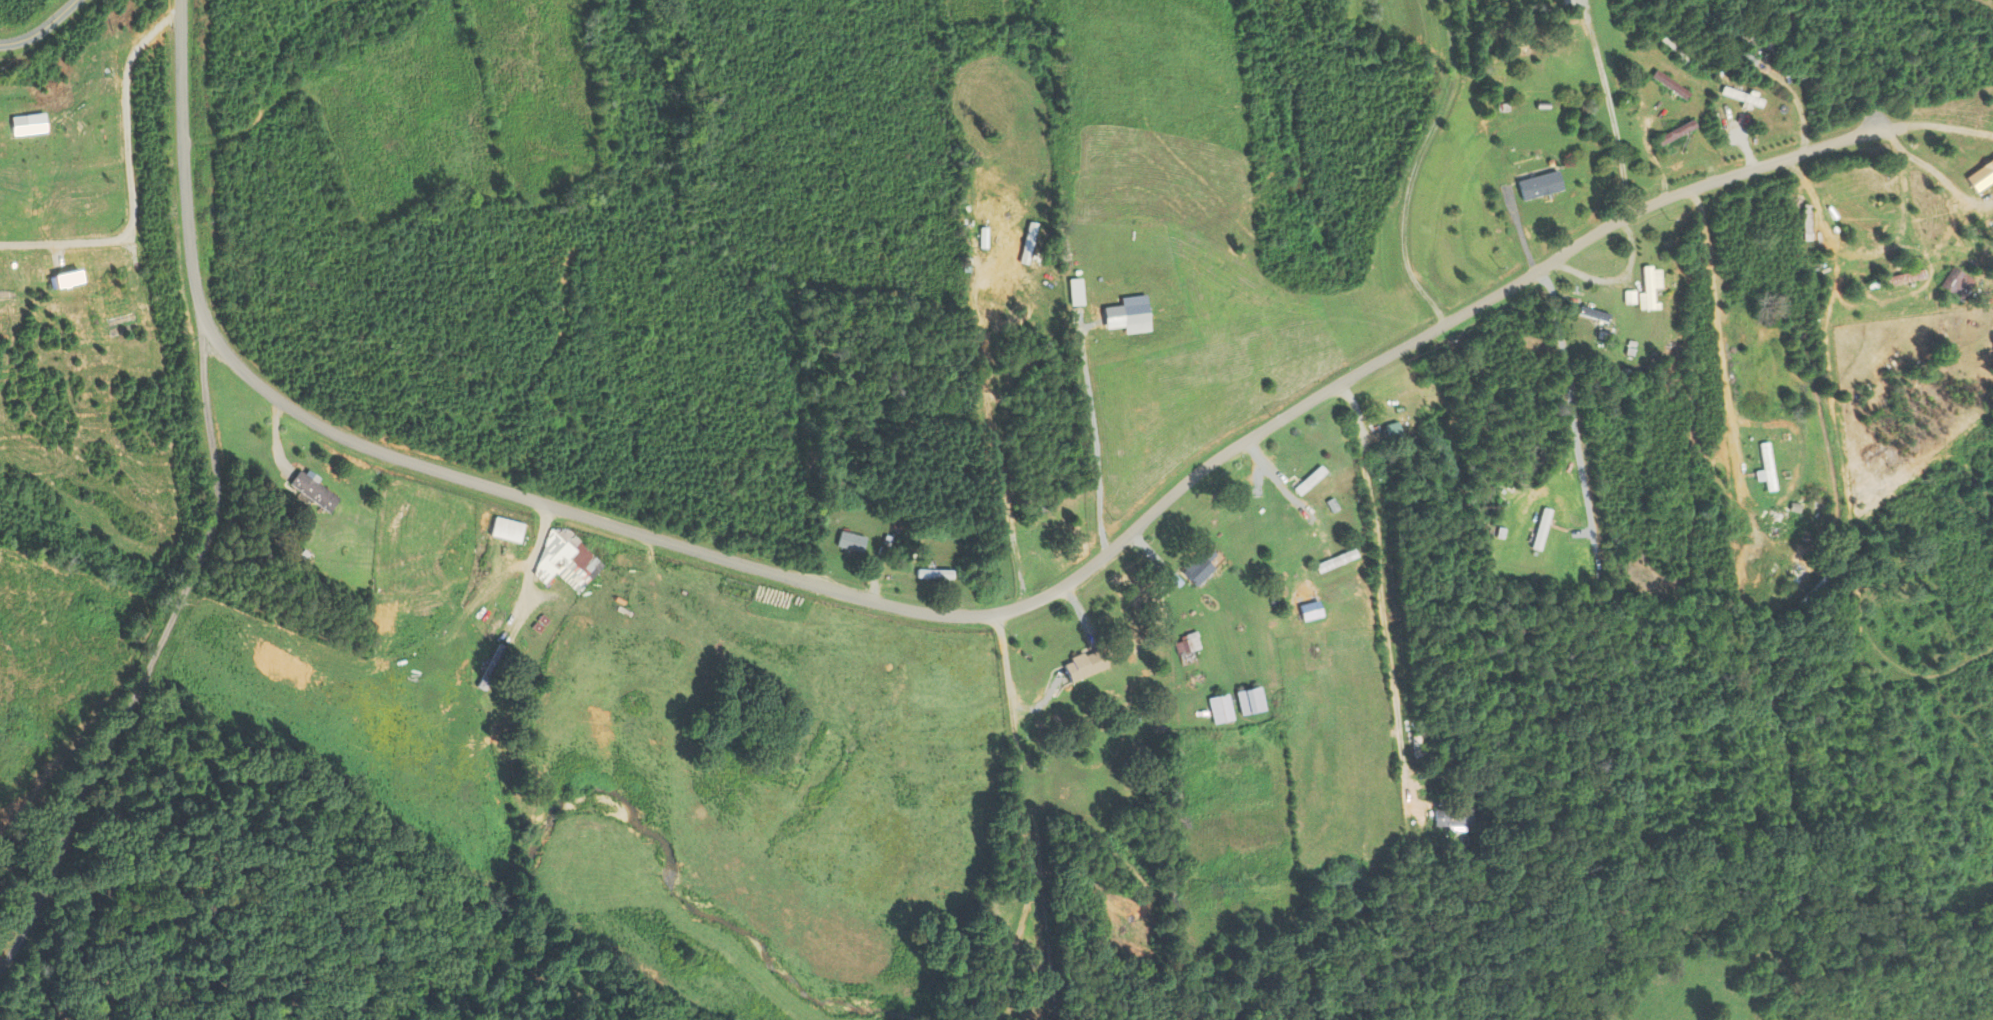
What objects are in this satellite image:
road: (40, 30)
building: (1743, 40)
building: (1676, 50)
building: (1671, 84)
building: (1743, 96)
road: (1610, 107)
road: (1885, 125)
road: (1944, 125)
building: (1675, 133)
road: (1416, 163)
building: (1534, 168)
road: (1936, 170)
building: (1980, 175)
road: (129, 178)
building: (1805, 222)
building: (1649, 288)
building: (1593, 314)
road: (1571, 405)
building: (1394, 431)
road: (1737, 437)
road: (1096, 440)
building: (1764, 463)
building: (1777, 470)
building: (1310, 481)
building: (313, 491)
building: (1540, 528)
building: (507, 530)
building: (850, 541)
building: (1287, 546)
building: (455, 553)
building: (565, 560)
building: (1336, 561)
building: (1199, 567)
building: (935, 574)
road: (1380, 589)
building: (1810, 592)
road: (910, 609)
building: (1187, 644)
road: (151, 658)
building: (1085, 665)
building: (490, 666)
building: (1250, 700)
building: (1220, 708)
building: (758, 739)
building: (1136, 746)
building: (1451, 818)
building: (1122, 950)

